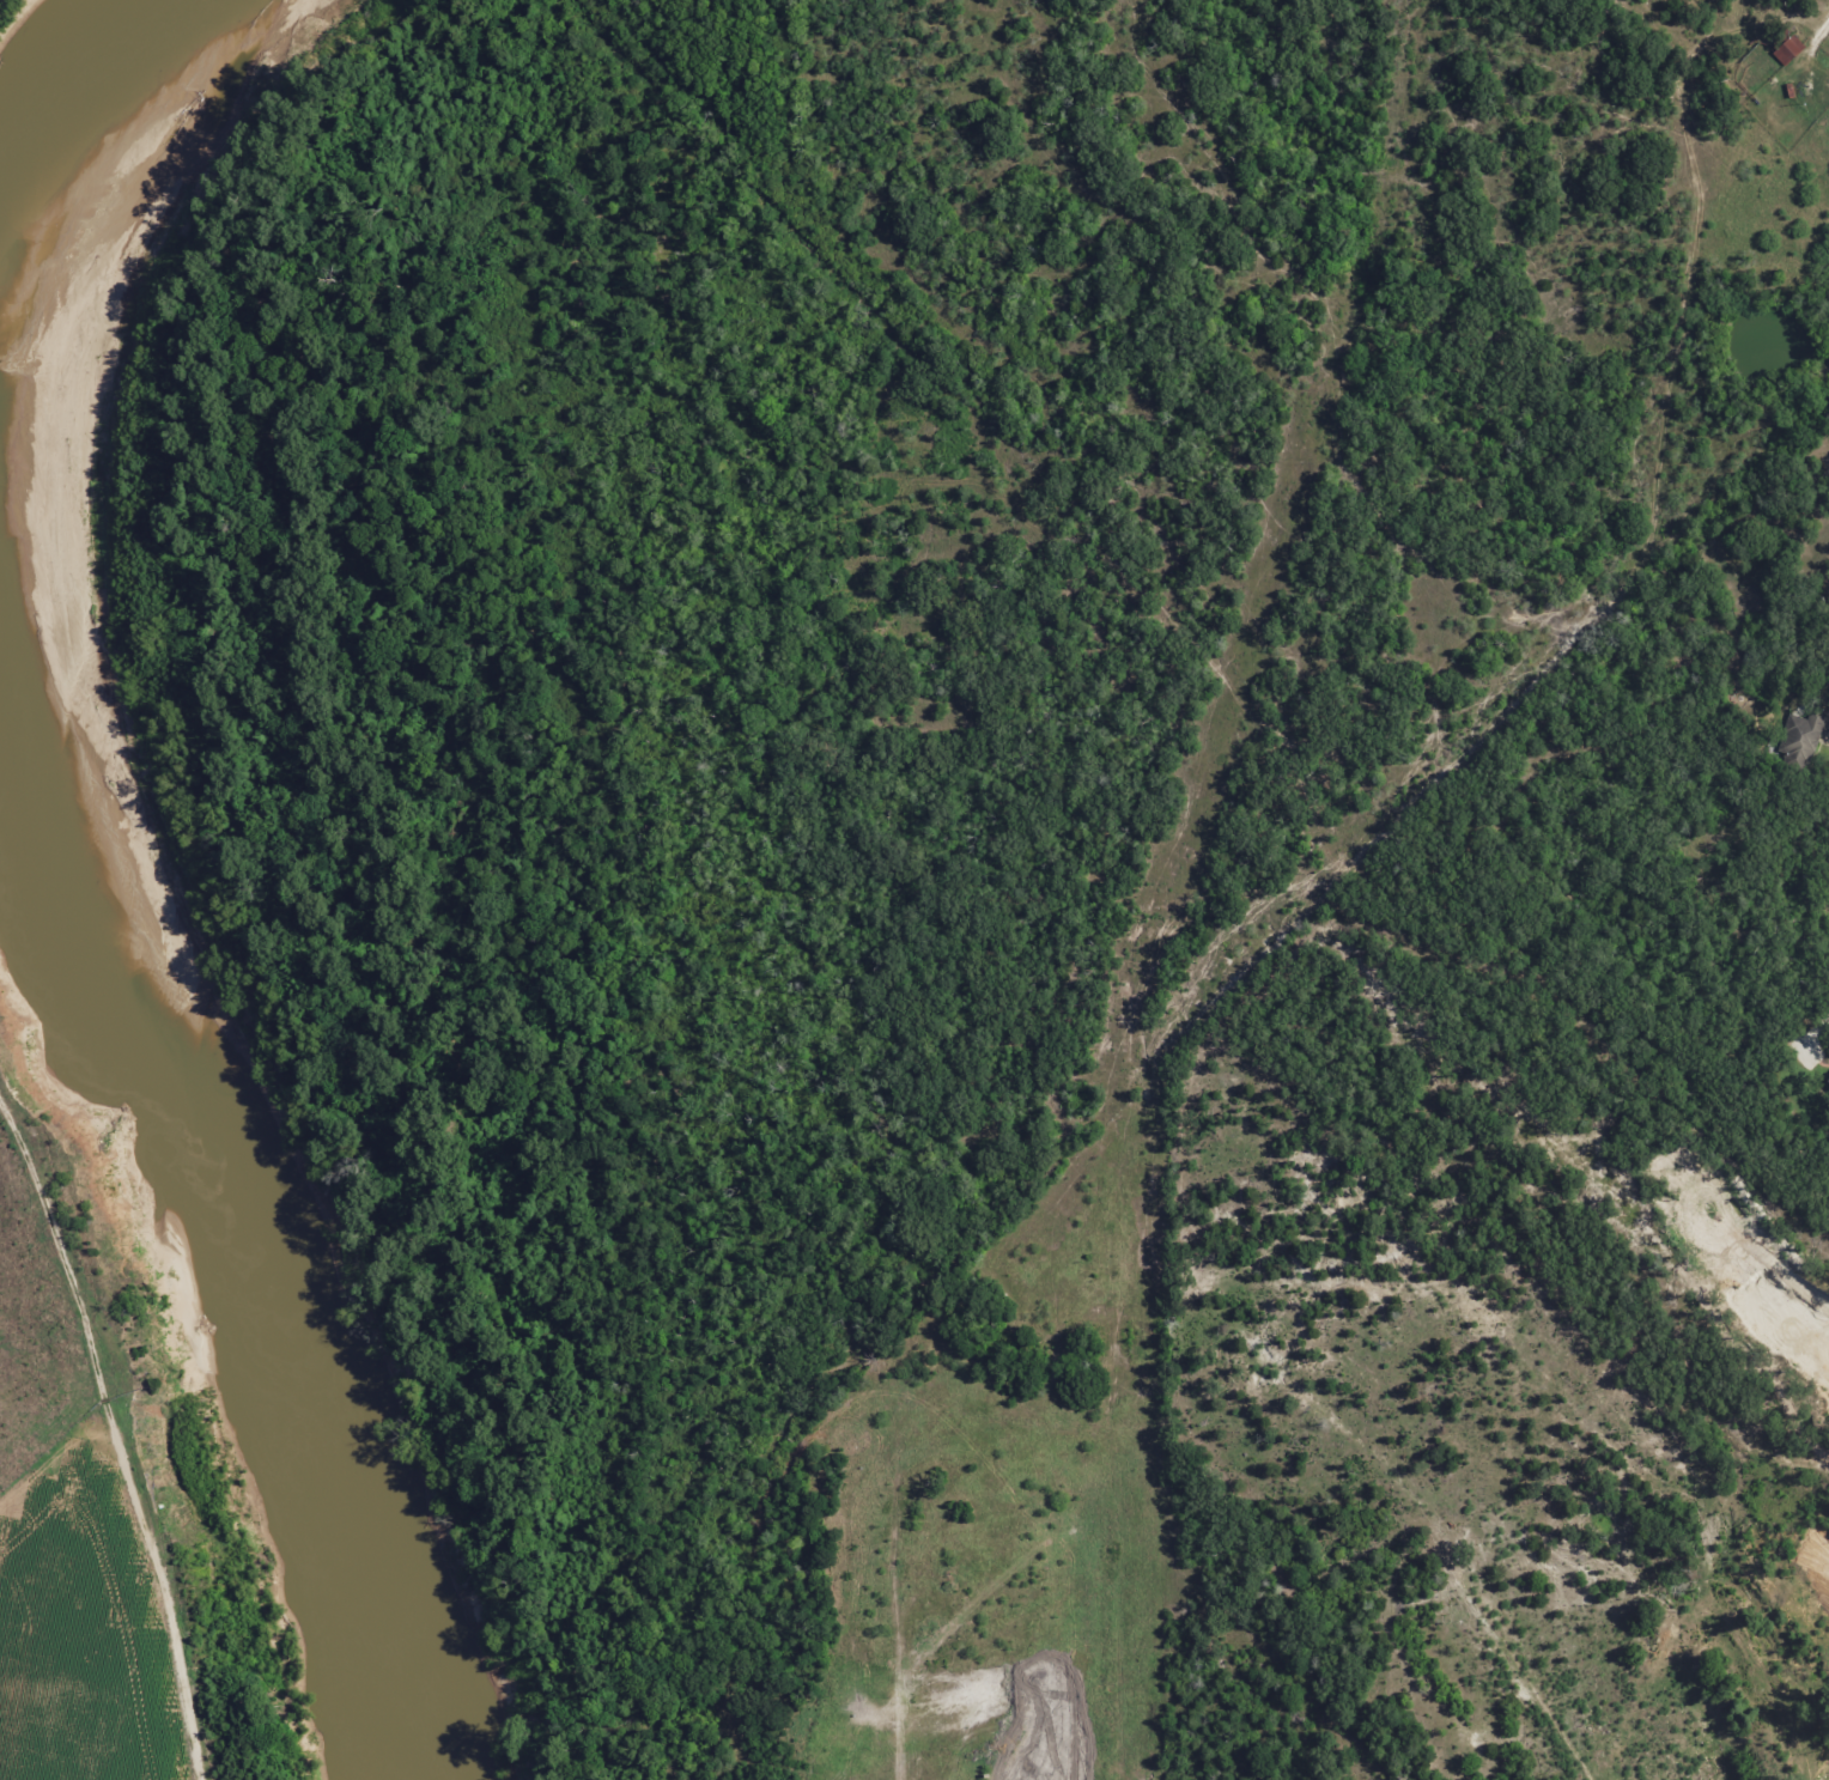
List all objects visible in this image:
building: (1789, 50)
river: (105, 904)
road: (114, 1434)

